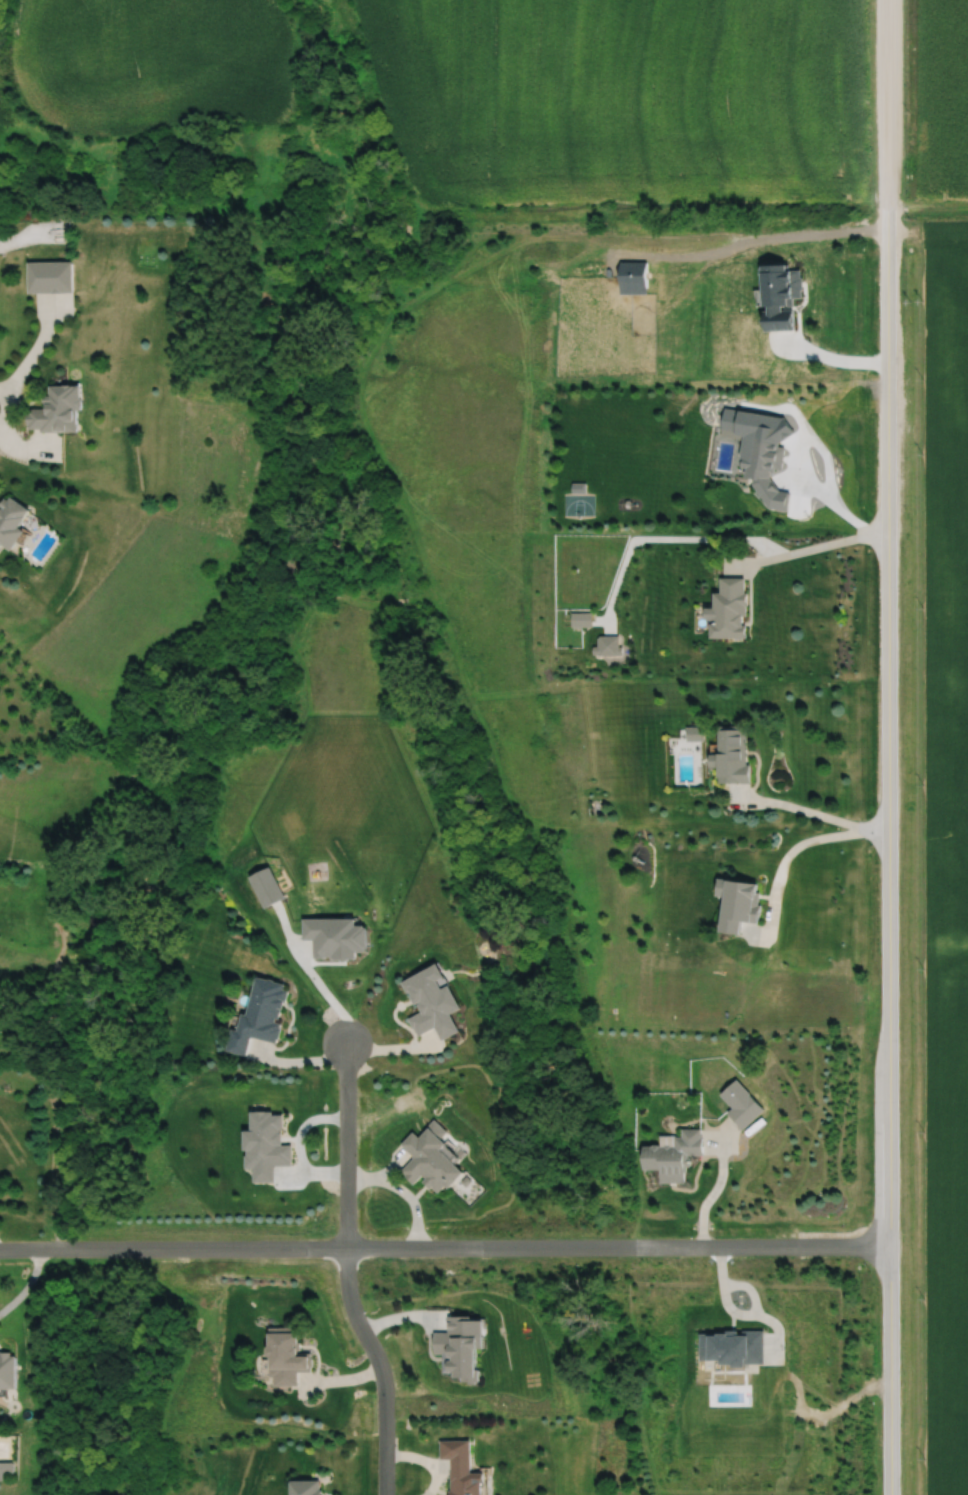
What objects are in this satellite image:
crop: (152, 64)
crop: (622, 100)
crop: (943, 107)
road: (772, 240)
building: (51, 278)
road: (839, 359)
building: (59, 412)
building: (767, 472)
road: (839, 507)
building: (12, 524)
road: (815, 546)
building: (731, 609)
road: (894, 747)
building: (732, 754)
road: (819, 813)
road: (797, 843)
crop: (944, 846)
building: (740, 902)
road: (317, 981)
building: (435, 1002)
building: (268, 1009)
building: (742, 1105)
building: (675, 1155)
building: (433, 1162)
road: (404, 1191)
road: (712, 1193)
road: (448, 1251)
road: (346, 1273)
road: (25, 1284)
building: (288, 1358)
building: (9, 1369)
road: (425, 1459)
building: (463, 1468)
building: (309, 1488)

